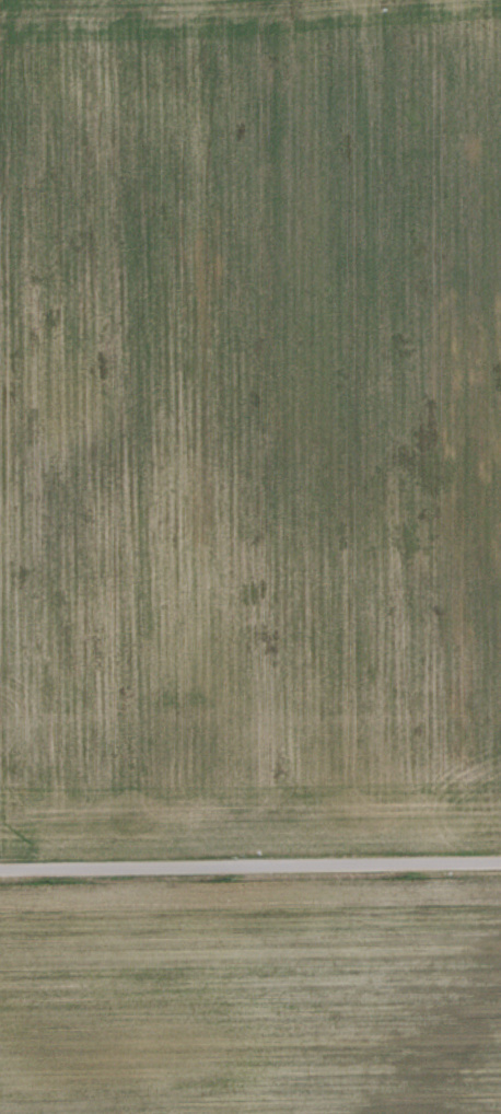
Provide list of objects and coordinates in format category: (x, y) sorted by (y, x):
road: (250, 871)

